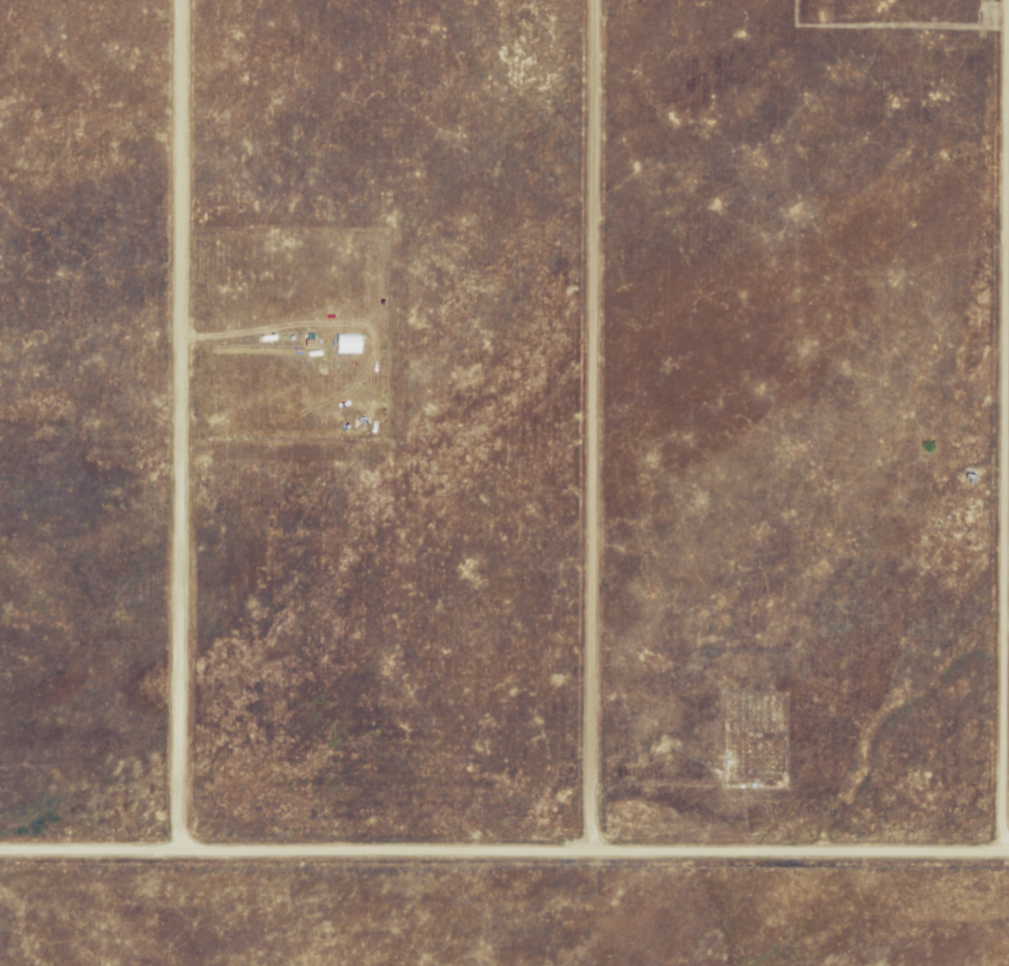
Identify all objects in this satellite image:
road: (174, 426)
road: (586, 426)
road: (997, 427)
road: (504, 852)

